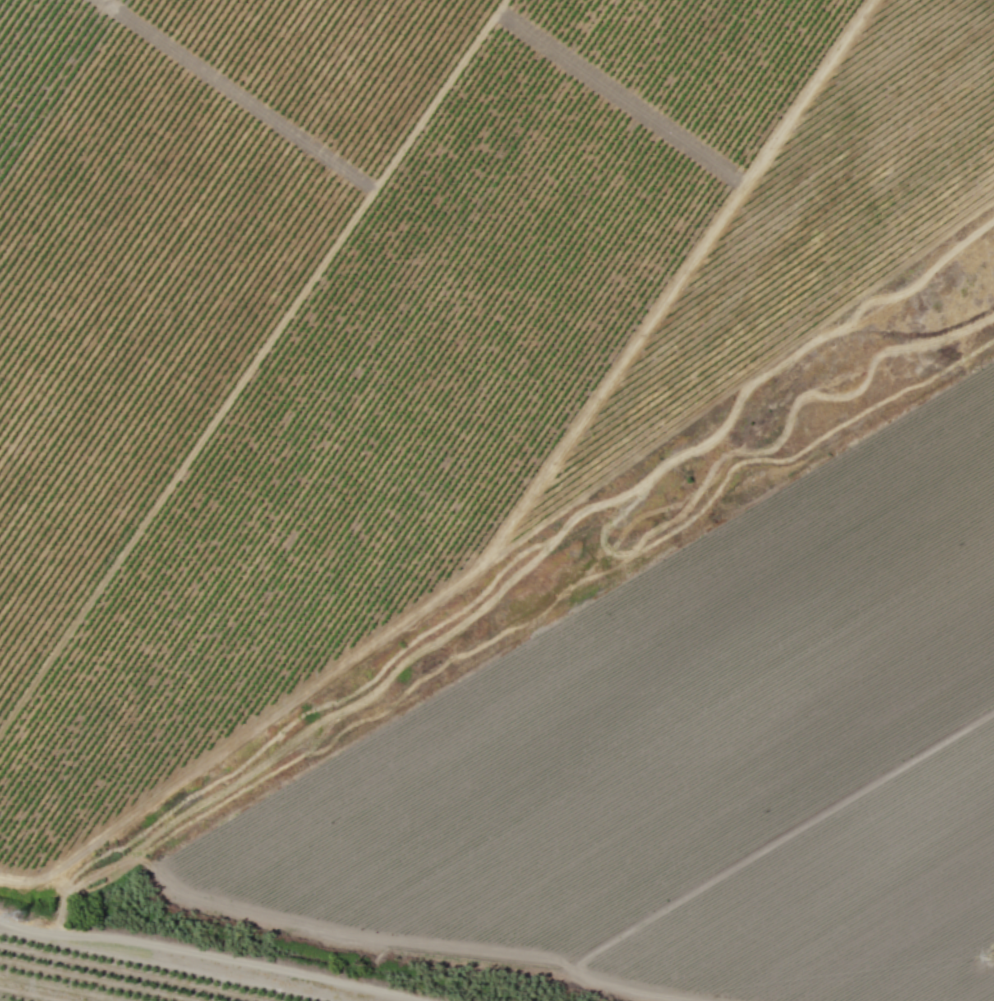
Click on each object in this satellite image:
power tower: (35, 916)
power tower: (988, 953)
road: (187, 963)

